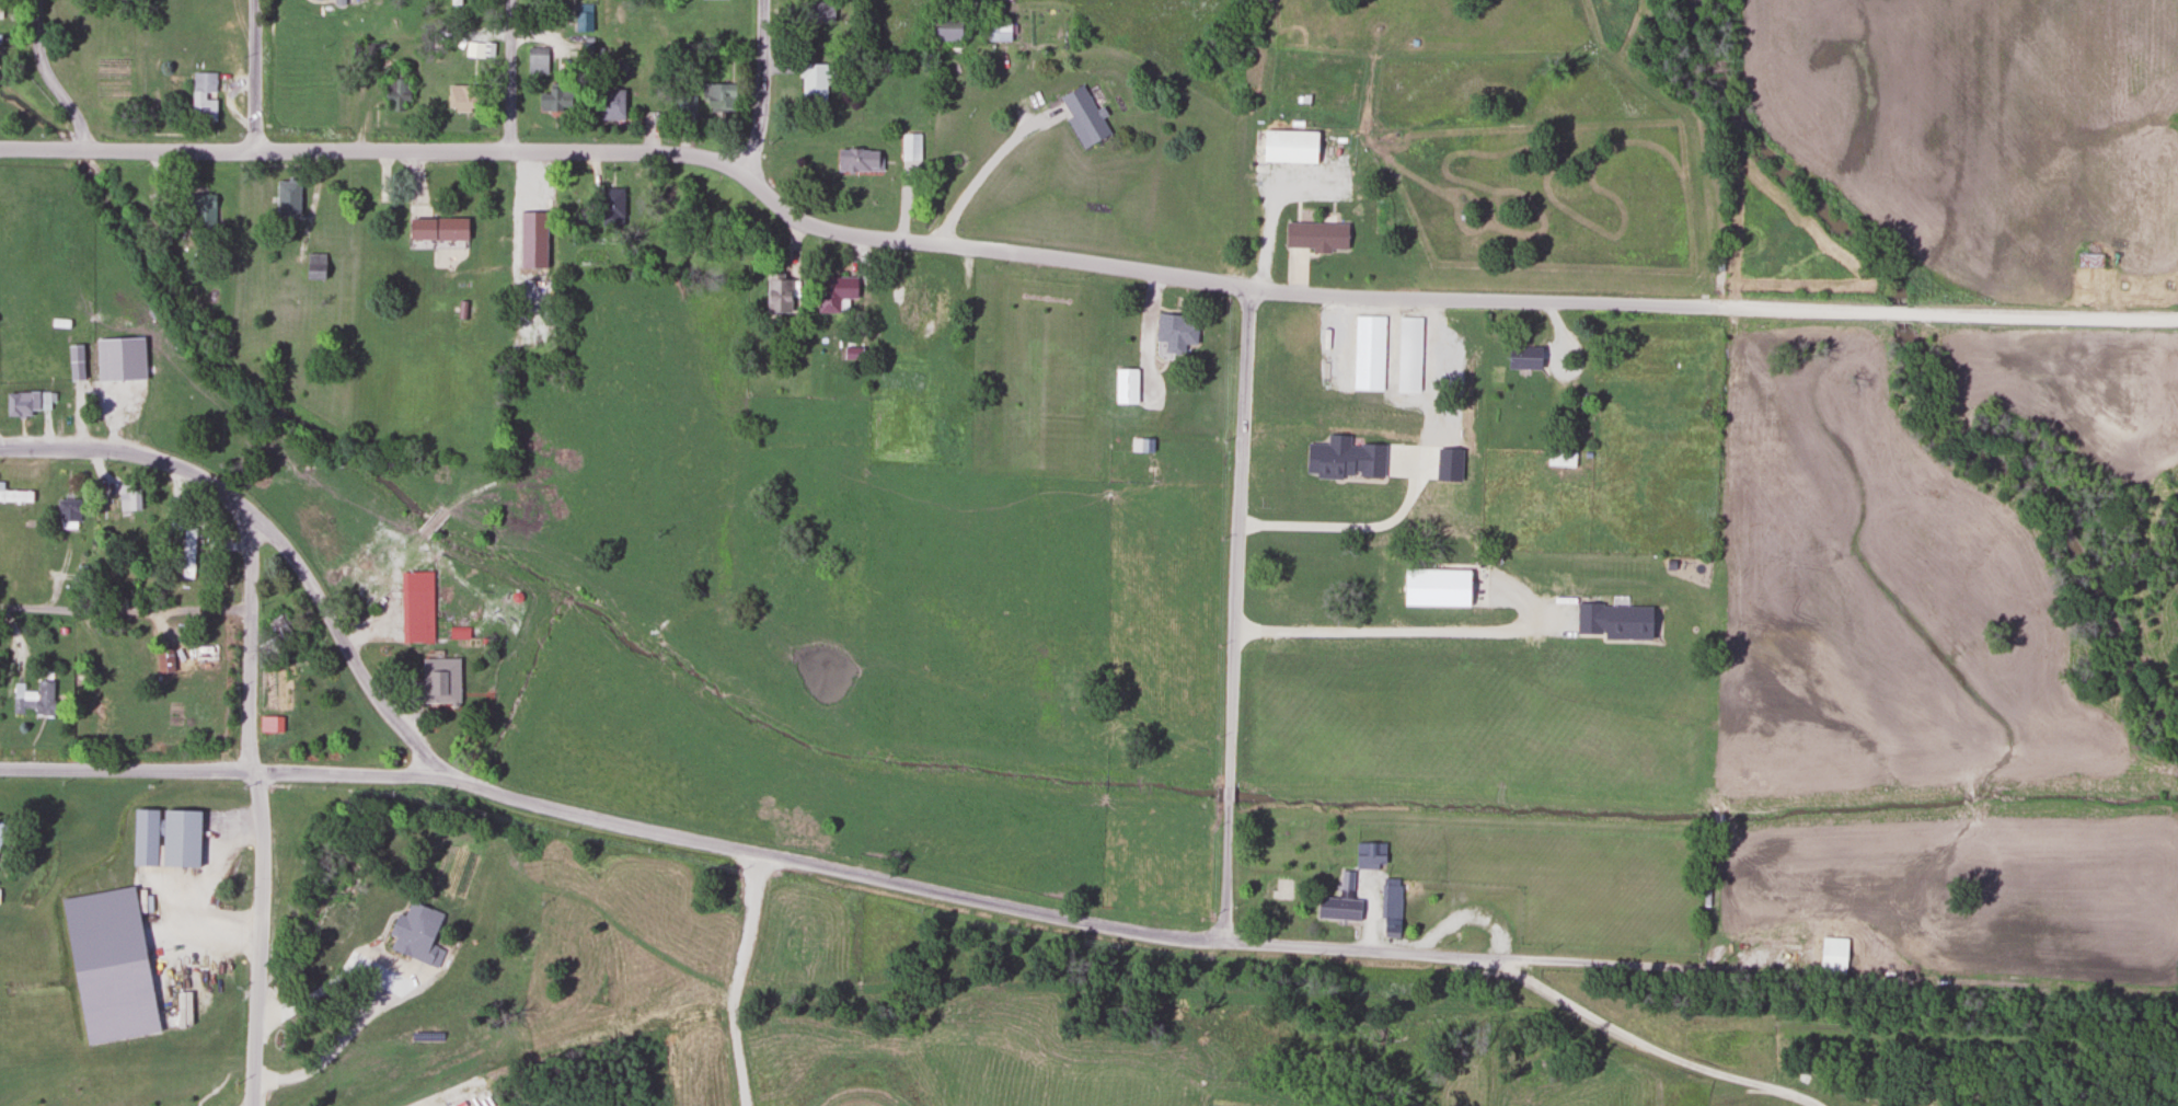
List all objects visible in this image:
building: (324, 0)
building: (454, 2)
building: (0, 9)
building: (820, 12)
building: (583, 20)
building: (944, 30)
building: (998, 32)
building: (0, 49)
building: (365, 51)
building: (537, 61)
road: (256, 73)
road: (512, 74)
road: (49, 79)
building: (813, 84)
road: (760, 88)
building: (395, 93)
building: (203, 97)
building: (459, 99)
building: (718, 99)
building: (554, 101)
building: (611, 104)
building: (685, 107)
building: (1082, 116)
building: (910, 147)
building: (1289, 148)
building: (857, 161)
road: (988, 165)
building: (539, 196)
building: (286, 200)
building: (611, 208)
building: (198, 210)
road: (825, 228)
building: (436, 230)
building: (1315, 235)
building: (2089, 260)
building: (314, 266)
building: (777, 292)
building: (834, 292)
building: (924, 300)
road: (1921, 313)
building: (1175, 331)
building: (1315, 356)
building: (1523, 357)
building: (1461, 361)
building: (74, 362)
building: (946, 375)
building: (1126, 384)
building: (1372, 388)
building: (27, 402)
building: (1560, 458)
building: (14, 495)
building: (129, 499)
building: (67, 512)
road: (272, 532)
building: (188, 552)
building: (1309, 576)
building: (416, 607)
road: (124, 611)
building: (1263, 612)
road: (1233, 615)
building: (1613, 620)
building: (459, 633)
road: (249, 644)
building: (171, 657)
building: (205, 659)
building: (439, 680)
building: (33, 698)
building: (166, 711)
building: (269, 724)
road: (126, 772)
road: (344, 774)
building: (1, 829)
building: (164, 837)
building: (1369, 854)
building: (145, 901)
building: (1340, 901)
building: (1391, 908)
road: (1116, 929)
building: (416, 934)
road: (258, 938)
building: (1833, 956)
road: (738, 979)
road: (387, 990)
building: (183, 1010)

